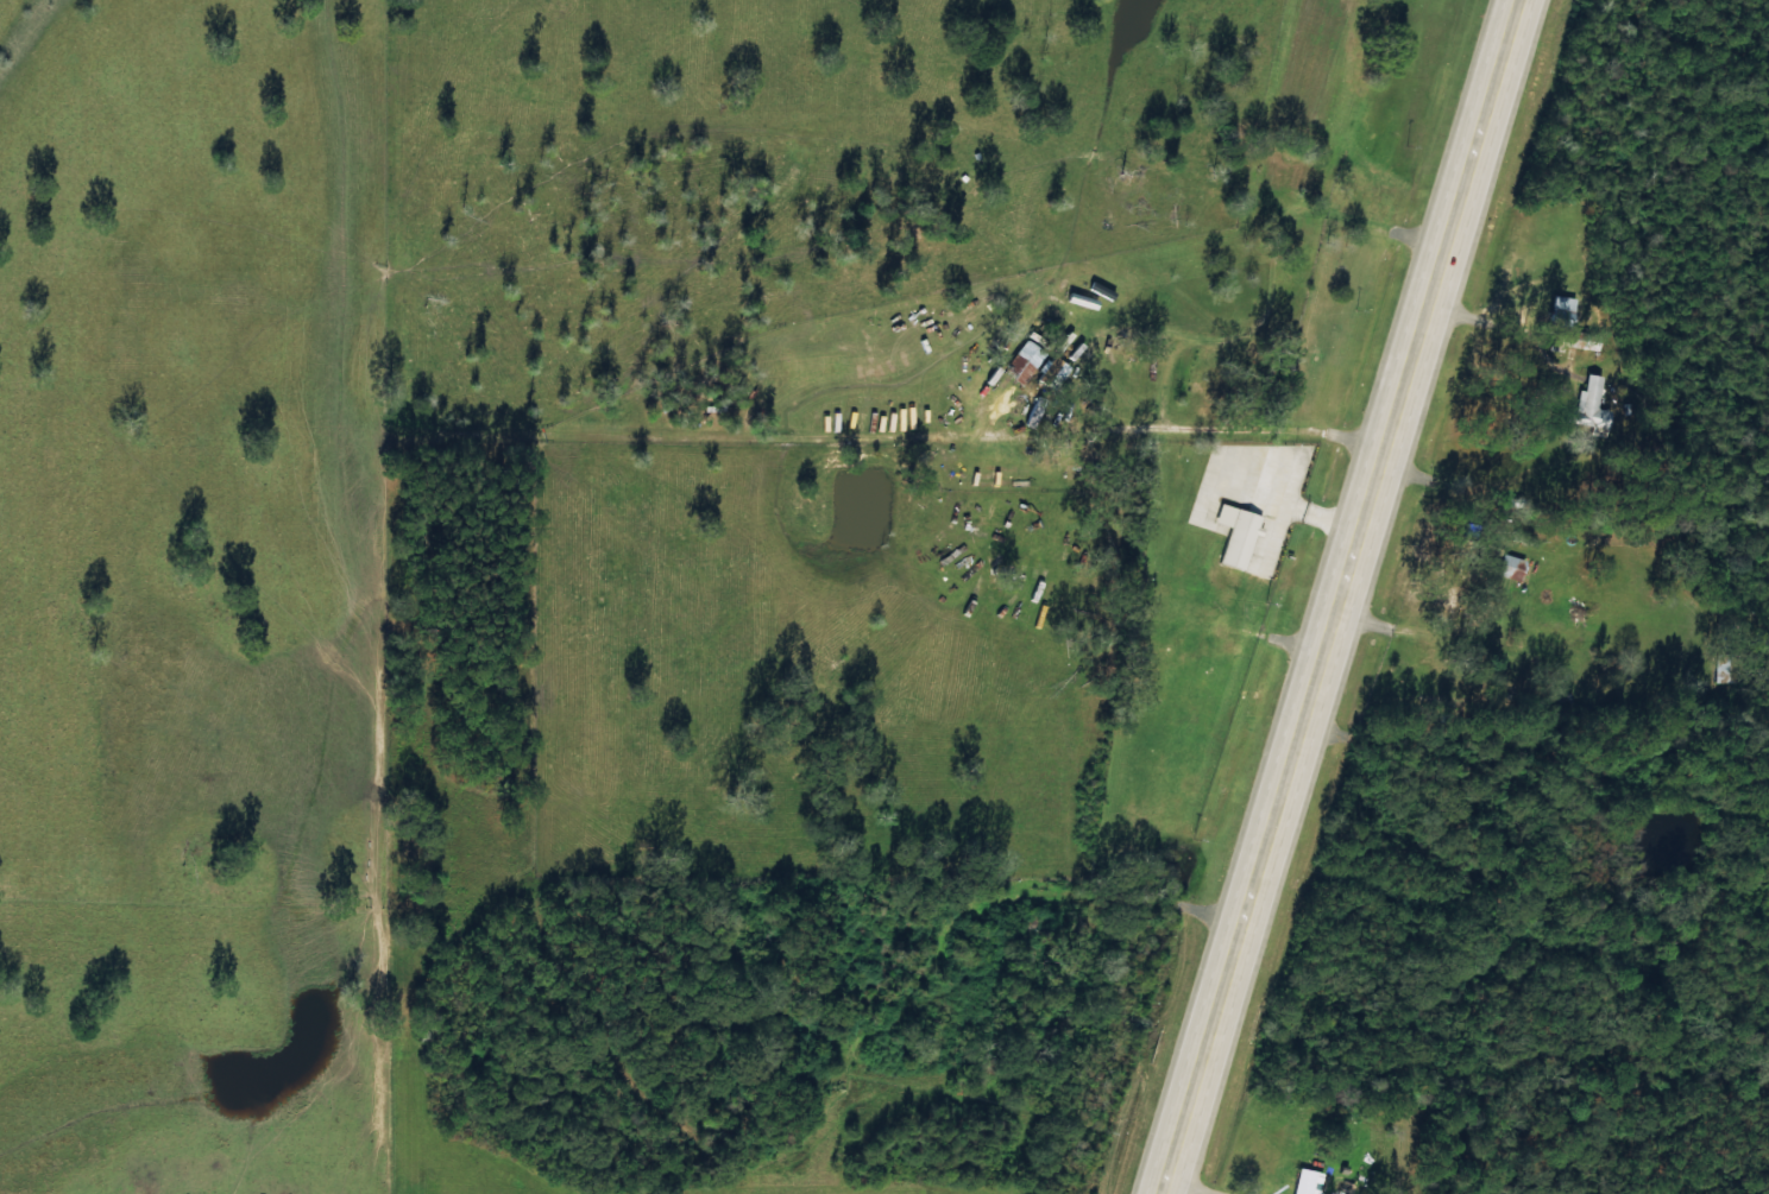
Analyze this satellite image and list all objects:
building: (1557, 308)
building: (1016, 362)
building: (1047, 369)
building: (1586, 406)
building: (988, 436)
building: (1235, 538)
building: (1505, 567)
road: (1340, 596)
building: (1304, 1181)

